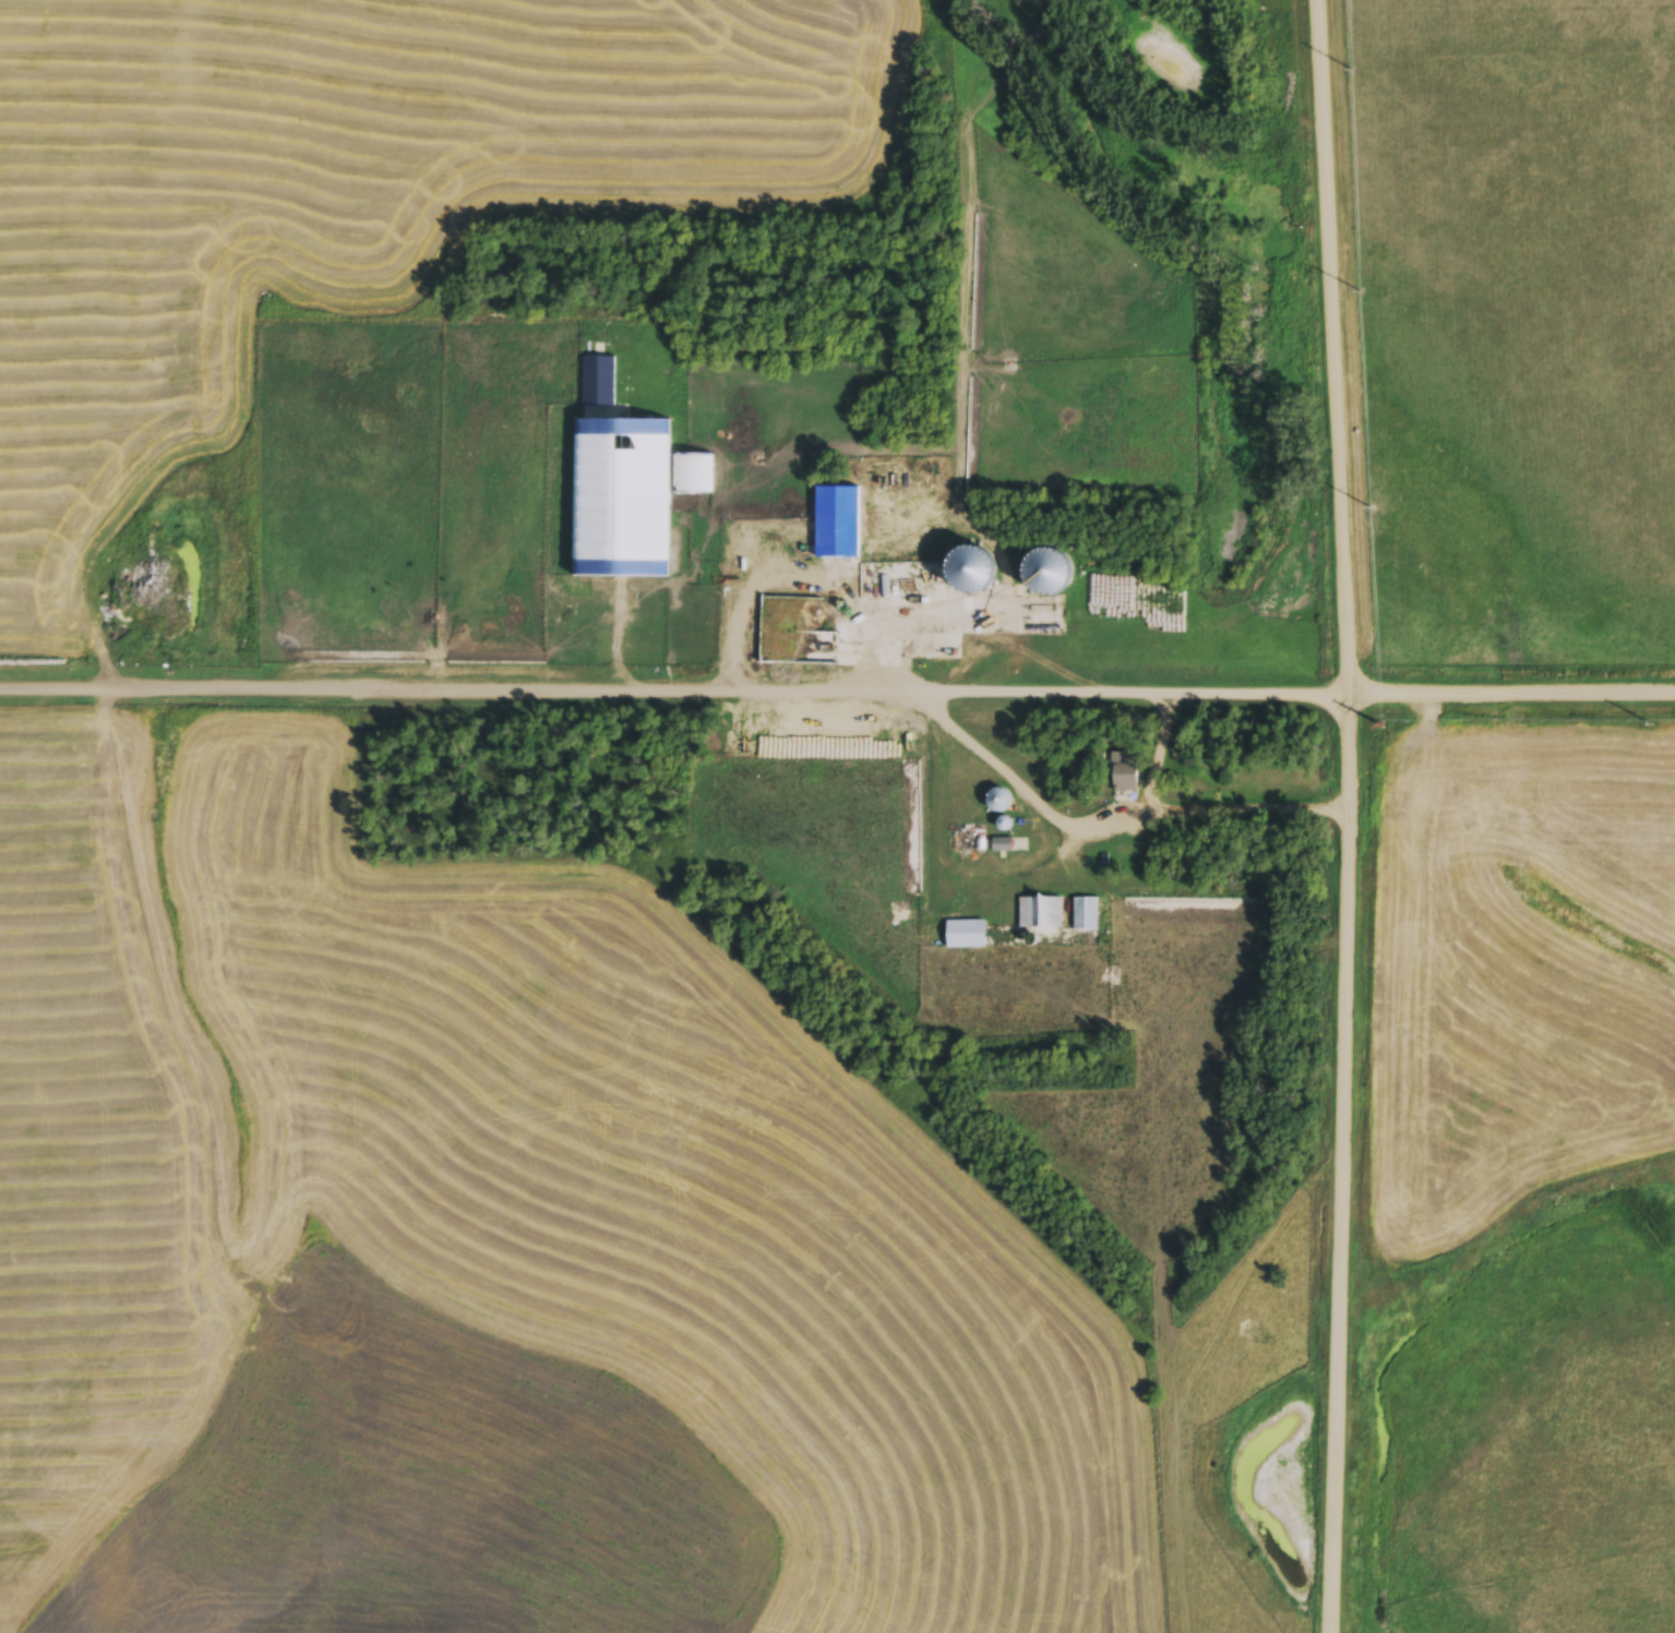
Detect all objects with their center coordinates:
building: (693, 476)
building: (621, 500)
building: (837, 526)
building: (1052, 569)
building: (977, 571)
road: (837, 691)
power tower: (1383, 729)
building: (1125, 775)
building: (996, 804)
road: (1353, 816)
building: (1040, 916)
building: (1086, 917)
building: (966, 938)

